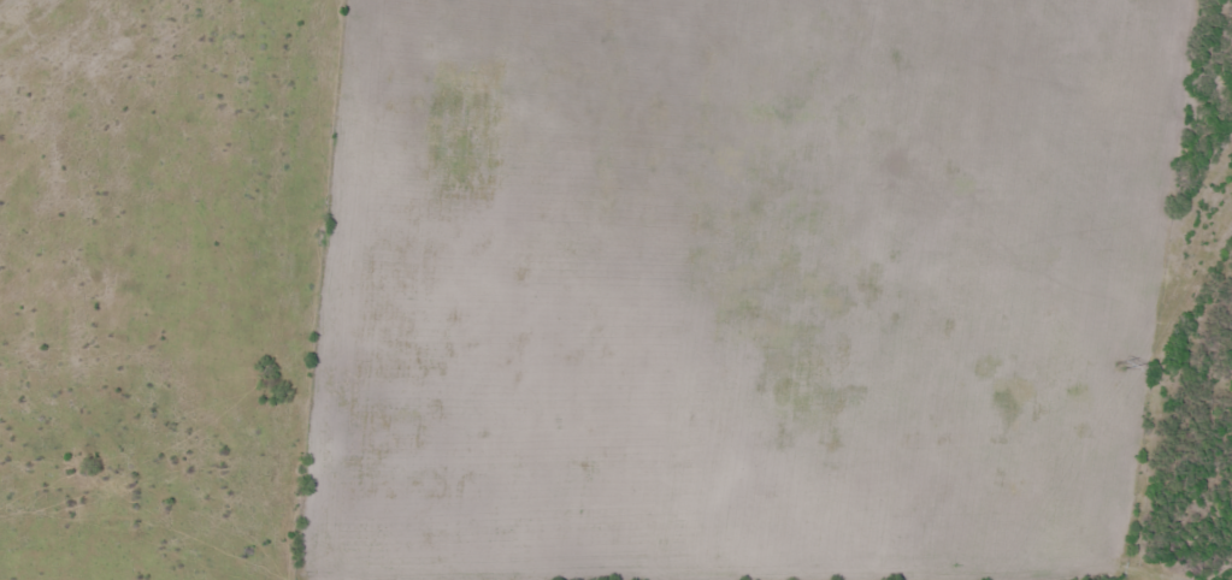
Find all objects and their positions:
power tower: (1118, 366)

